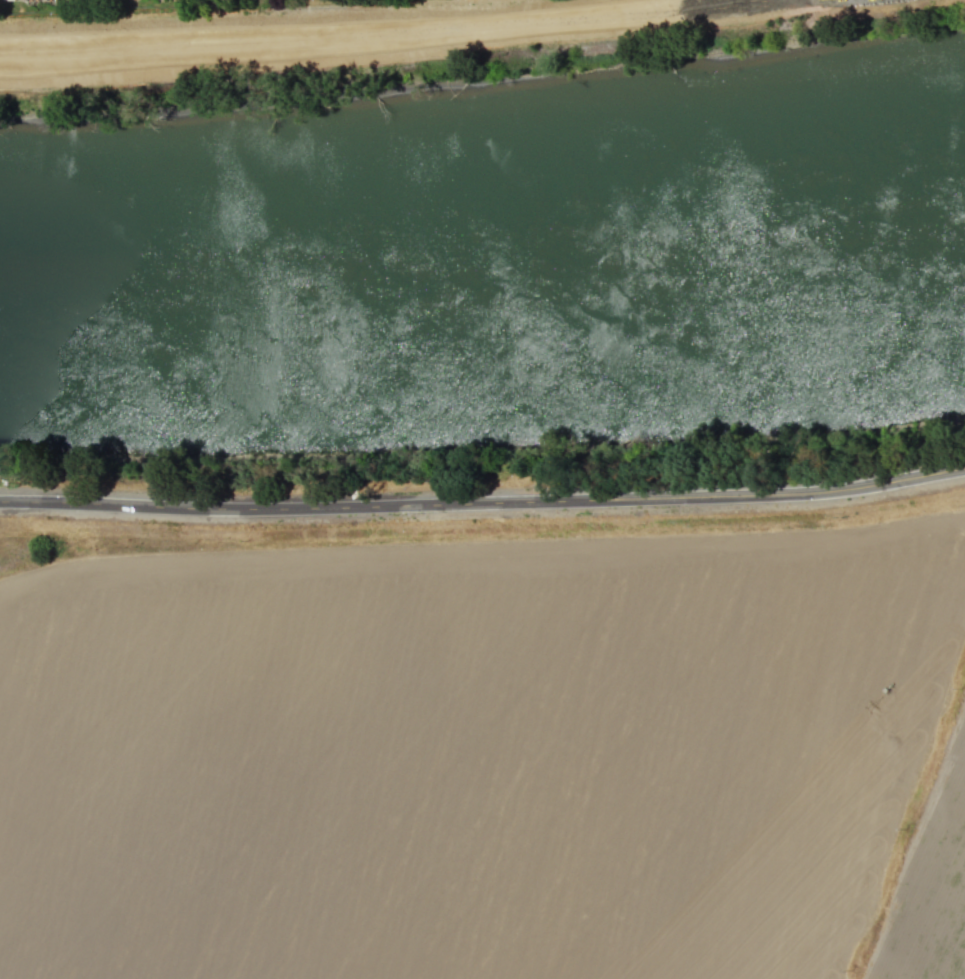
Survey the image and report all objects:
building: (38, 0)
road: (362, 32)
river: (482, 232)
road: (483, 501)
crop: (474, 754)

